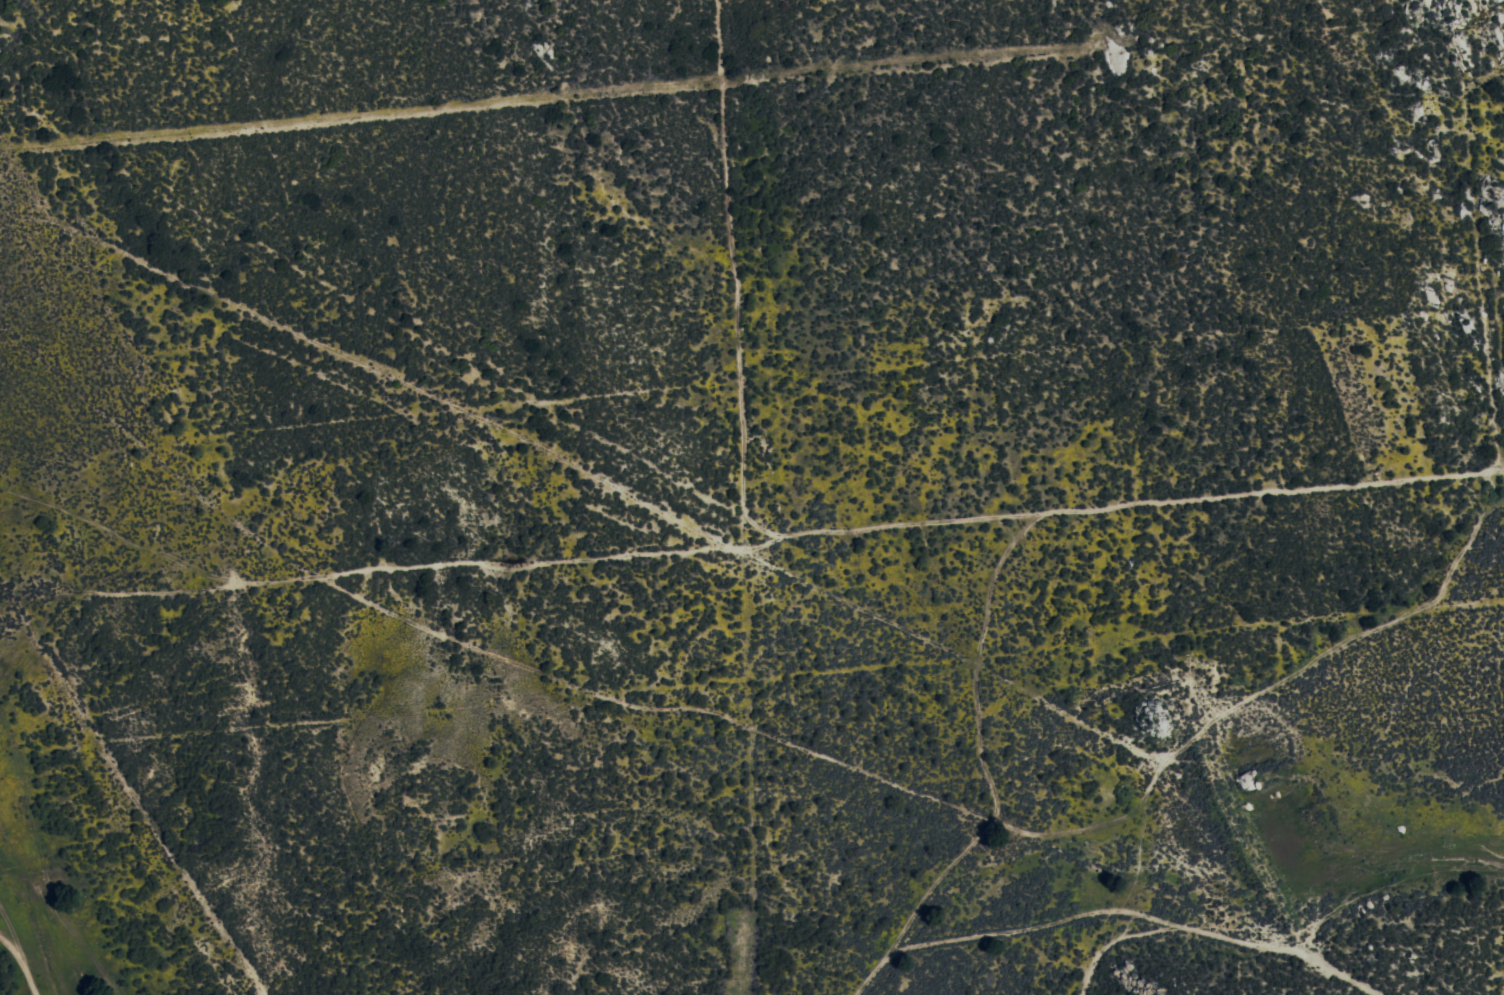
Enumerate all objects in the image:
road: (21, 963)

